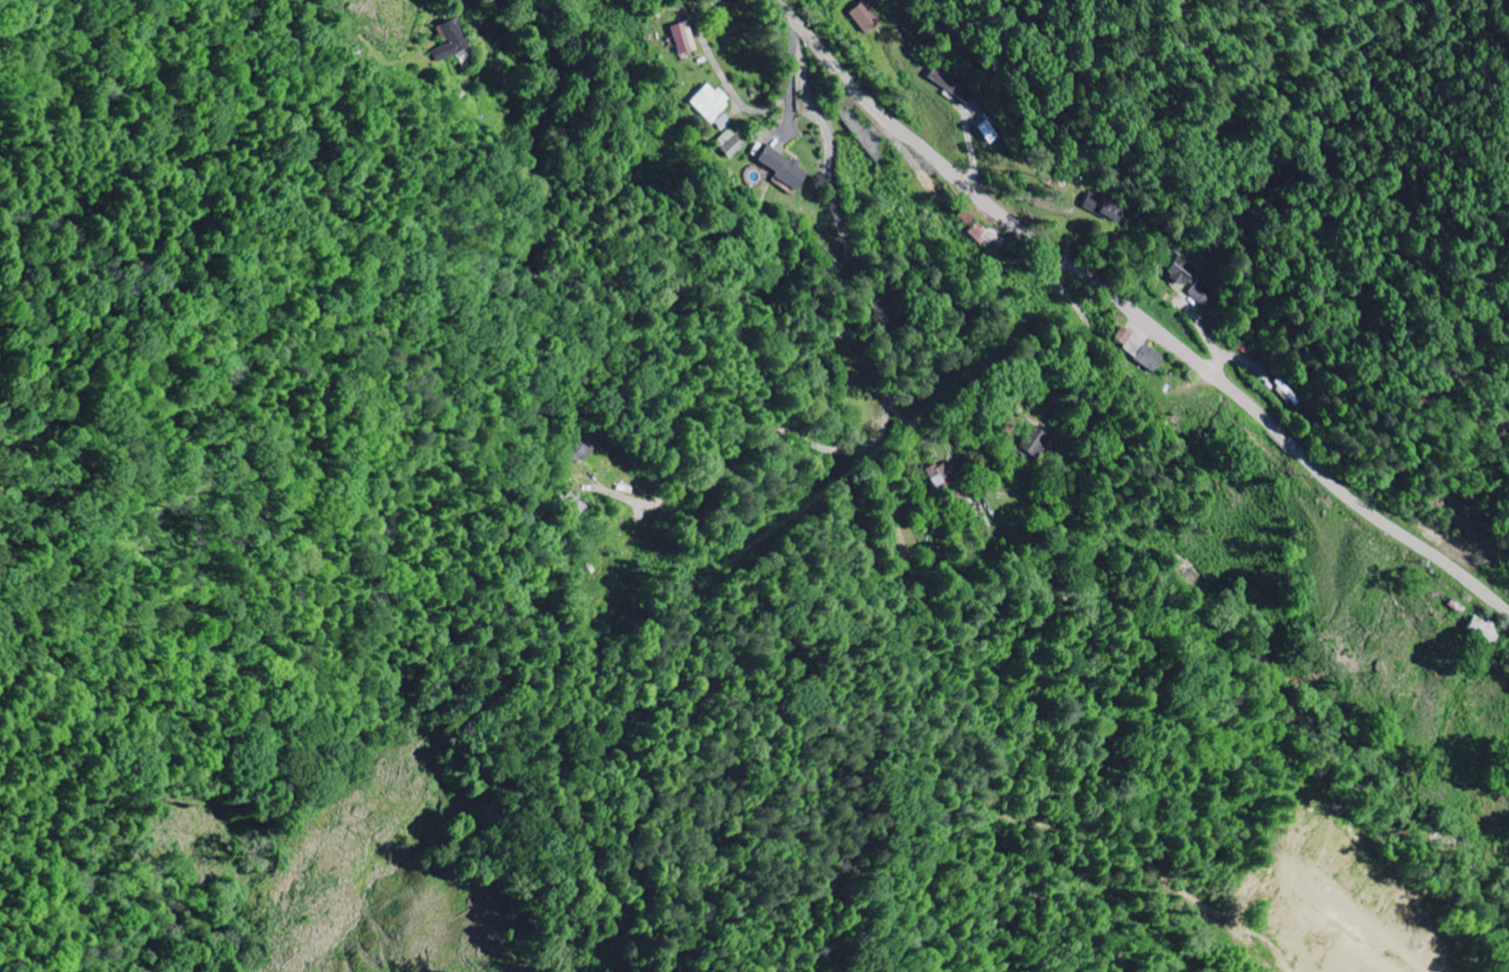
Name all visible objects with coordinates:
building: (862, 17)
building: (679, 37)
building: (446, 41)
building: (948, 86)
road: (746, 106)
building: (710, 107)
building: (727, 144)
building: (778, 168)
building: (1100, 207)
road: (849, 251)
building: (1178, 272)
building: (1199, 293)
road: (1136, 312)
building: (1134, 350)
road: (872, 389)
road: (762, 434)
building: (1031, 444)
building: (579, 451)
building: (939, 477)
building: (573, 506)
building: (1479, 629)

